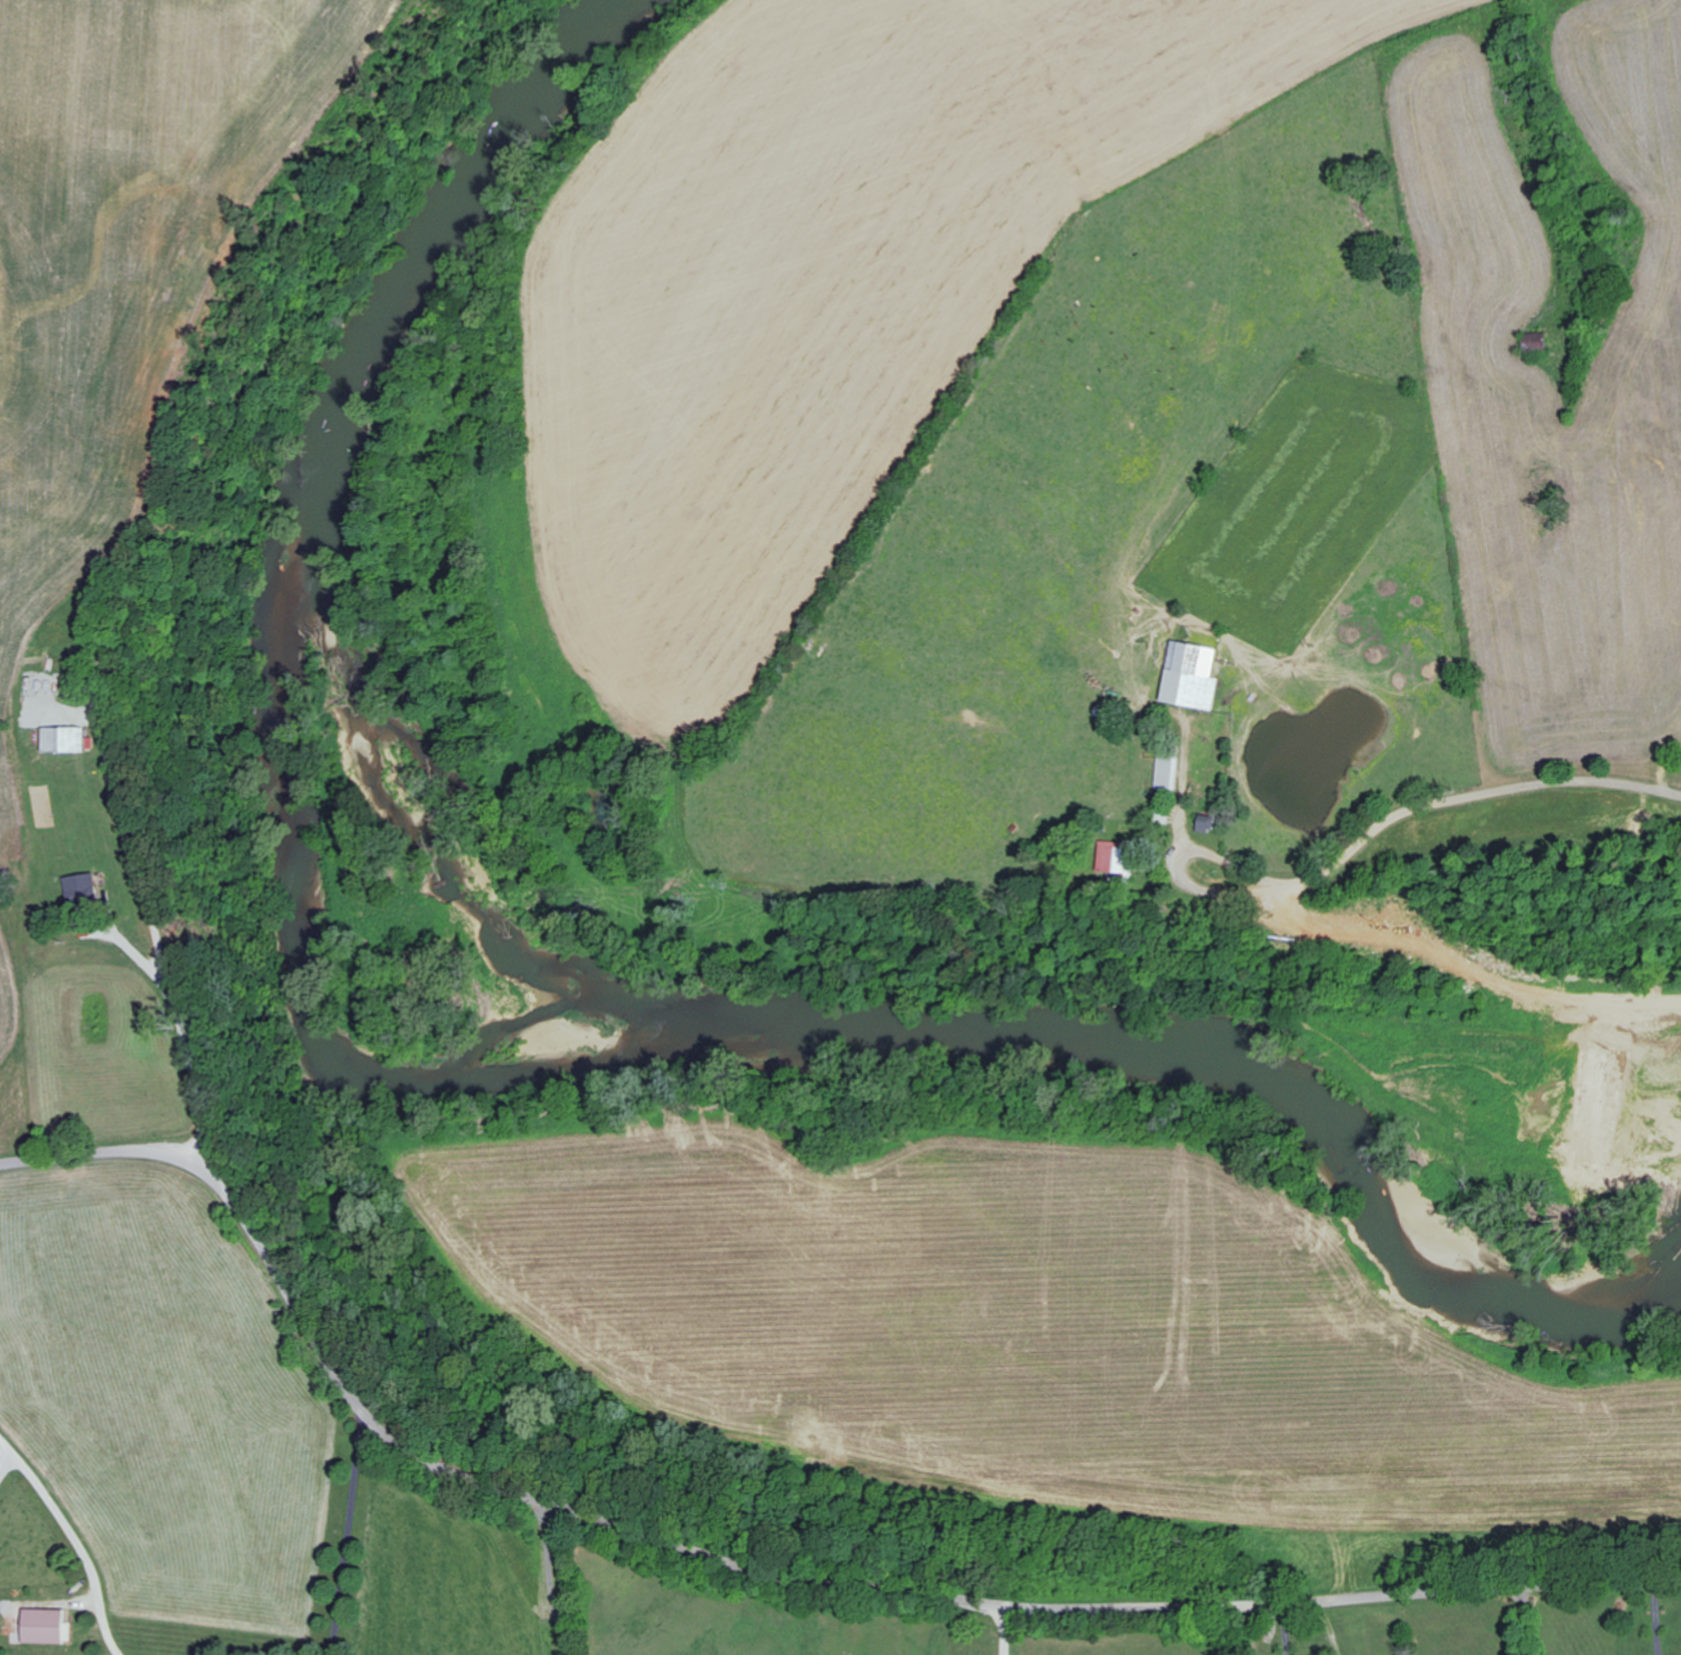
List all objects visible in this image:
building: (1193, 674)
building: (69, 738)
building: (1169, 770)
road: (1181, 791)
road: (1473, 797)
building: (1208, 823)
building: (1120, 857)
road: (1181, 865)
building: (83, 886)
river: (298, 898)
river: (595, 1013)
road: (186, 1042)
road: (69, 1557)
road: (758, 1574)
road: (1656, 1620)
road: (1525, 1623)
building: (46, 1625)
road: (1284, 1631)
road: (1005, 1632)

